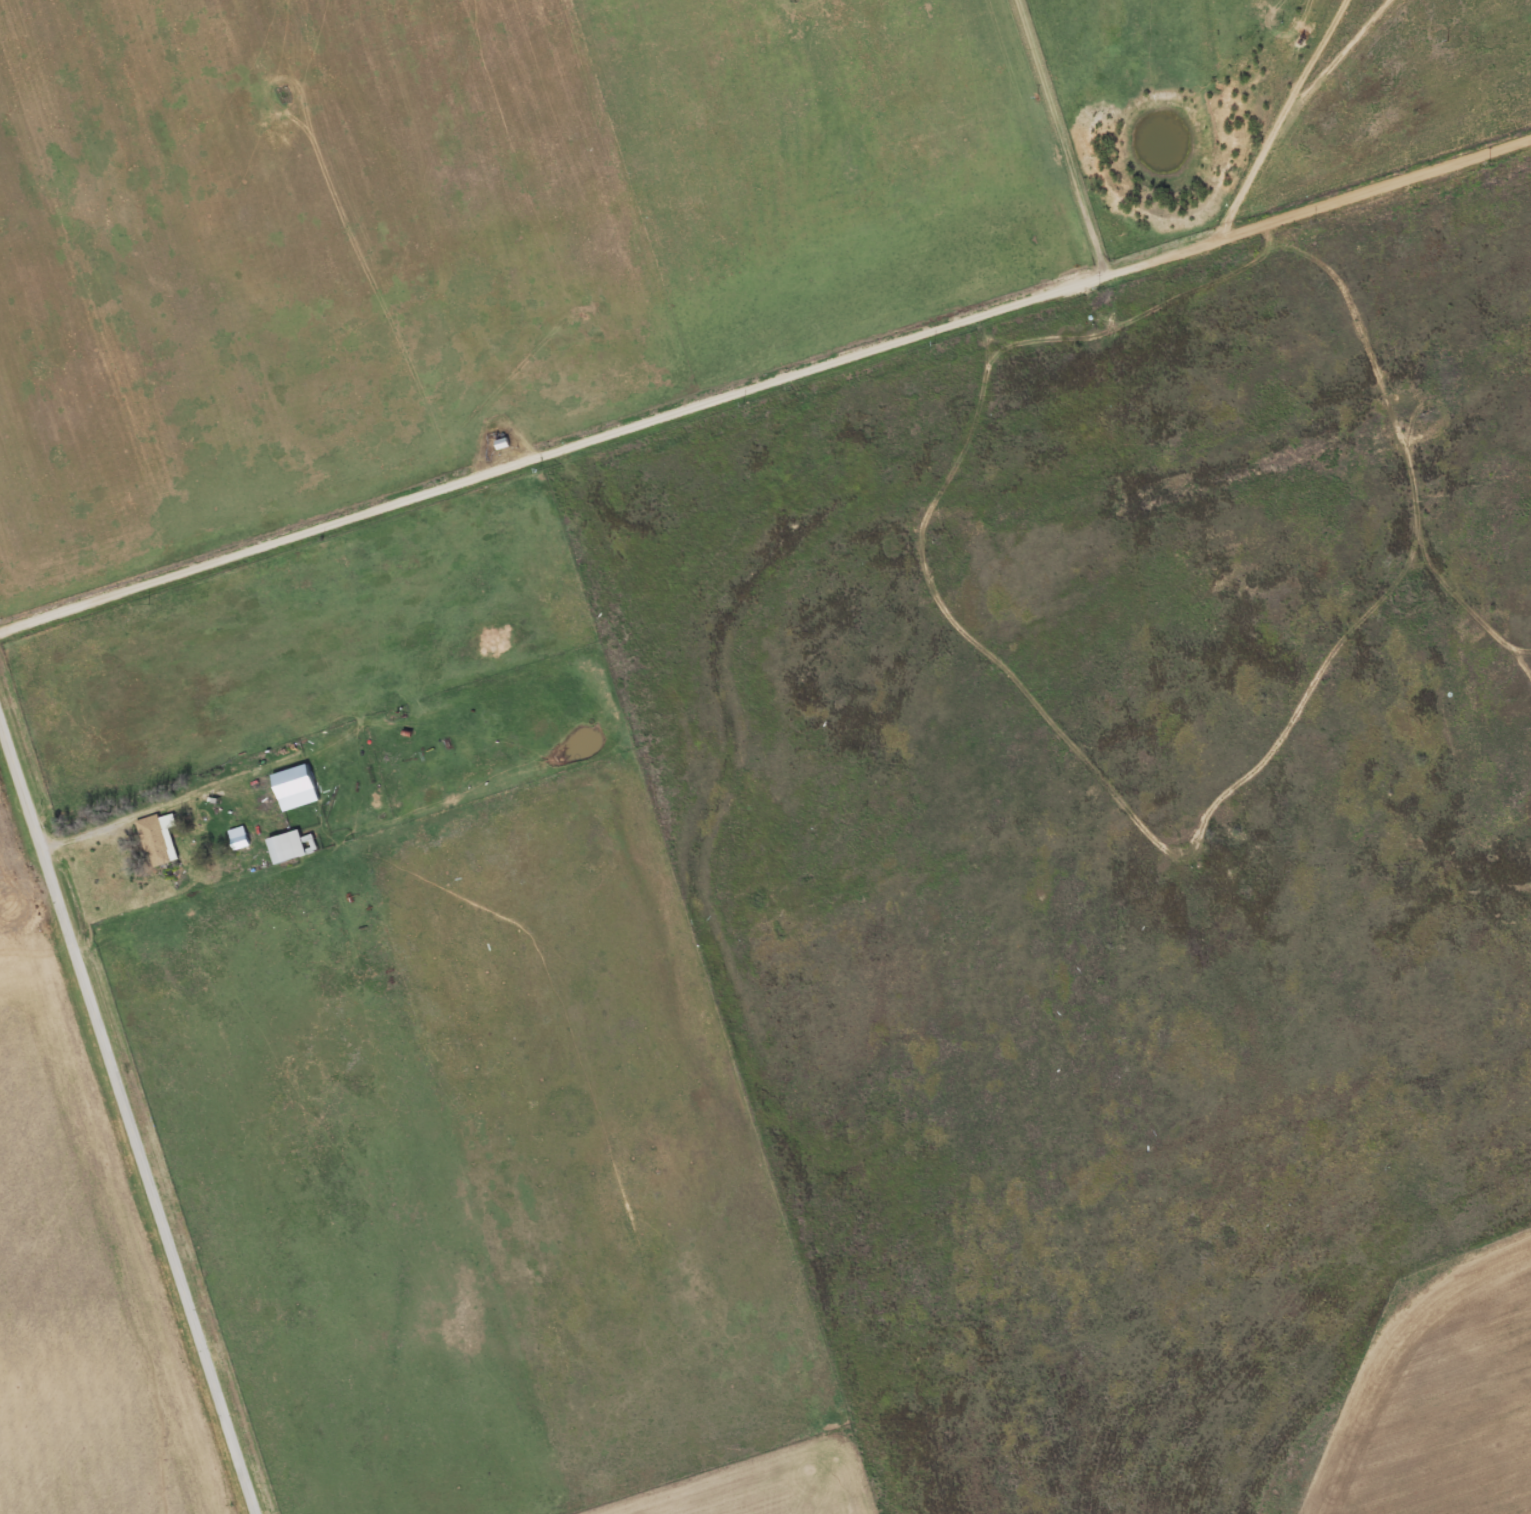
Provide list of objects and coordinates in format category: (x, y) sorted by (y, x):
road: (1228, 98)
road: (1059, 137)
road: (1381, 299)
road: (765, 381)
building: (504, 446)
building: (301, 789)
building: (243, 839)
building: (162, 840)
building: (296, 848)
road: (128, 1112)

